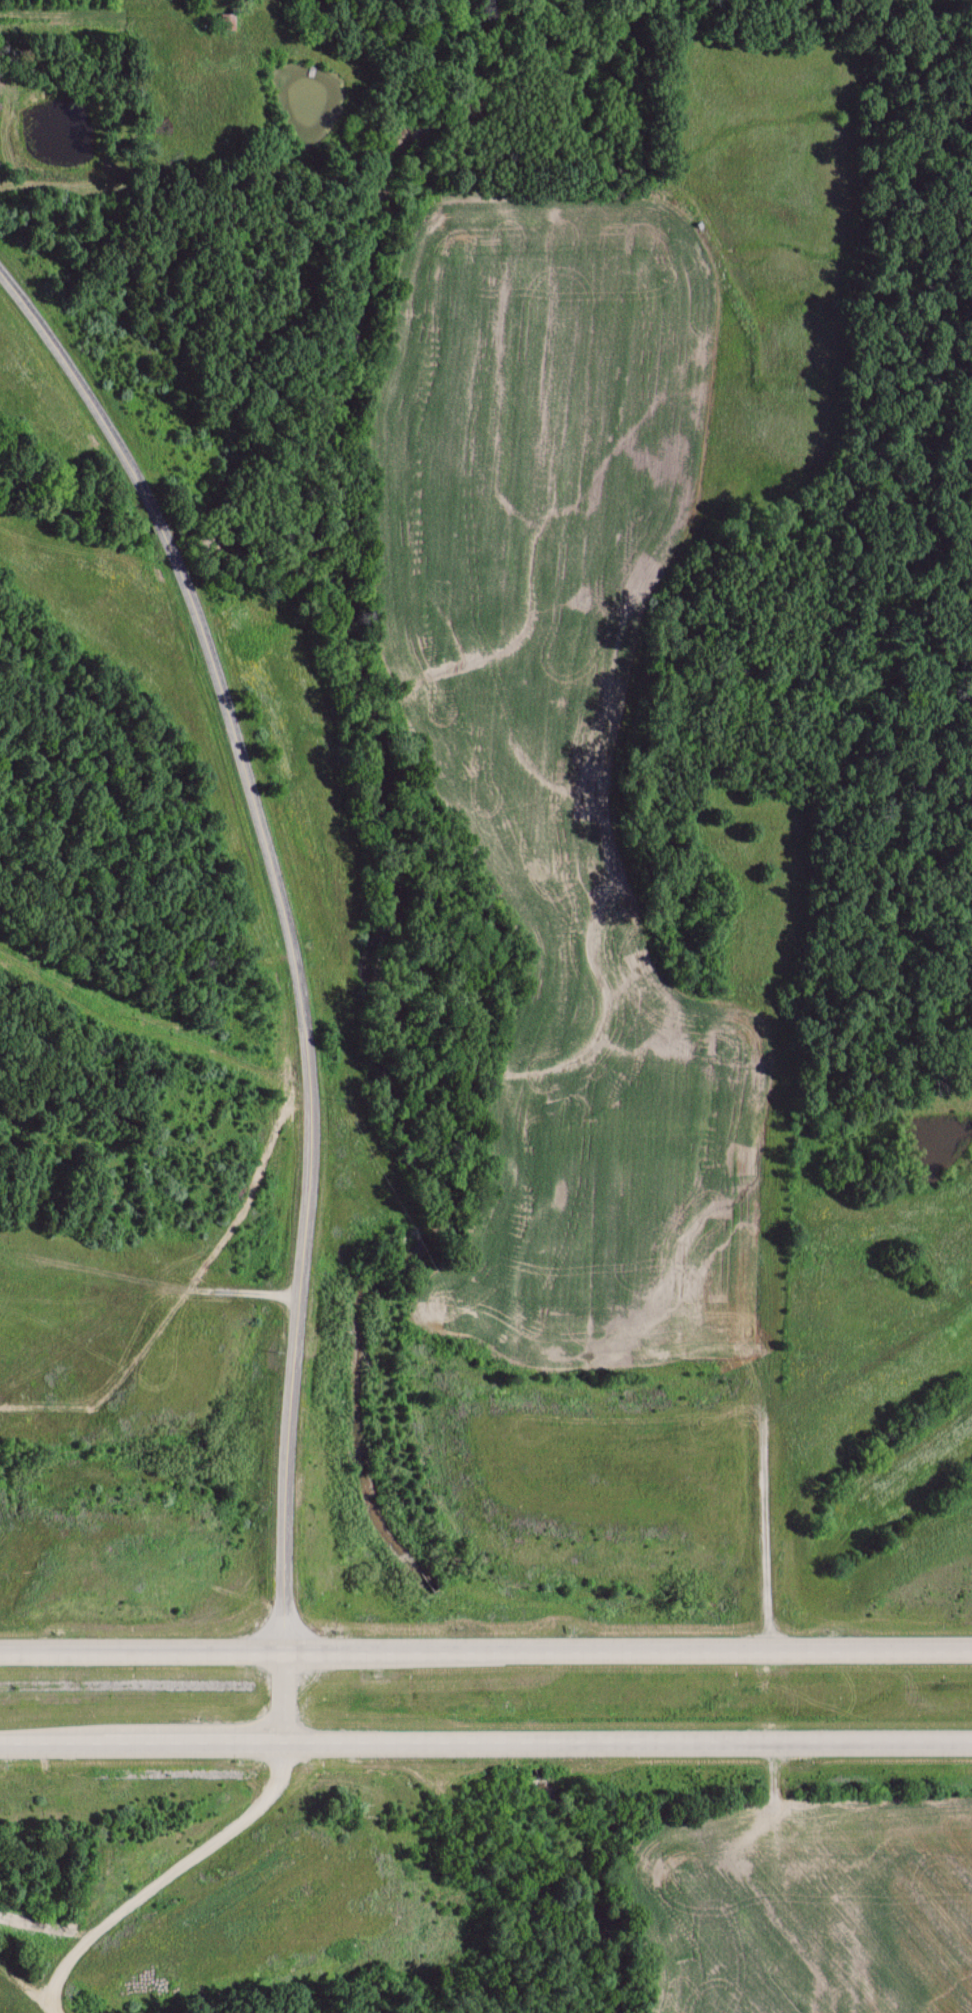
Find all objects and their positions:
building: (233, 22)
road: (89, 52)
road: (299, 973)
road: (486, 1655)
road: (486, 1743)
road: (168, 1876)
road: (23, 1993)

